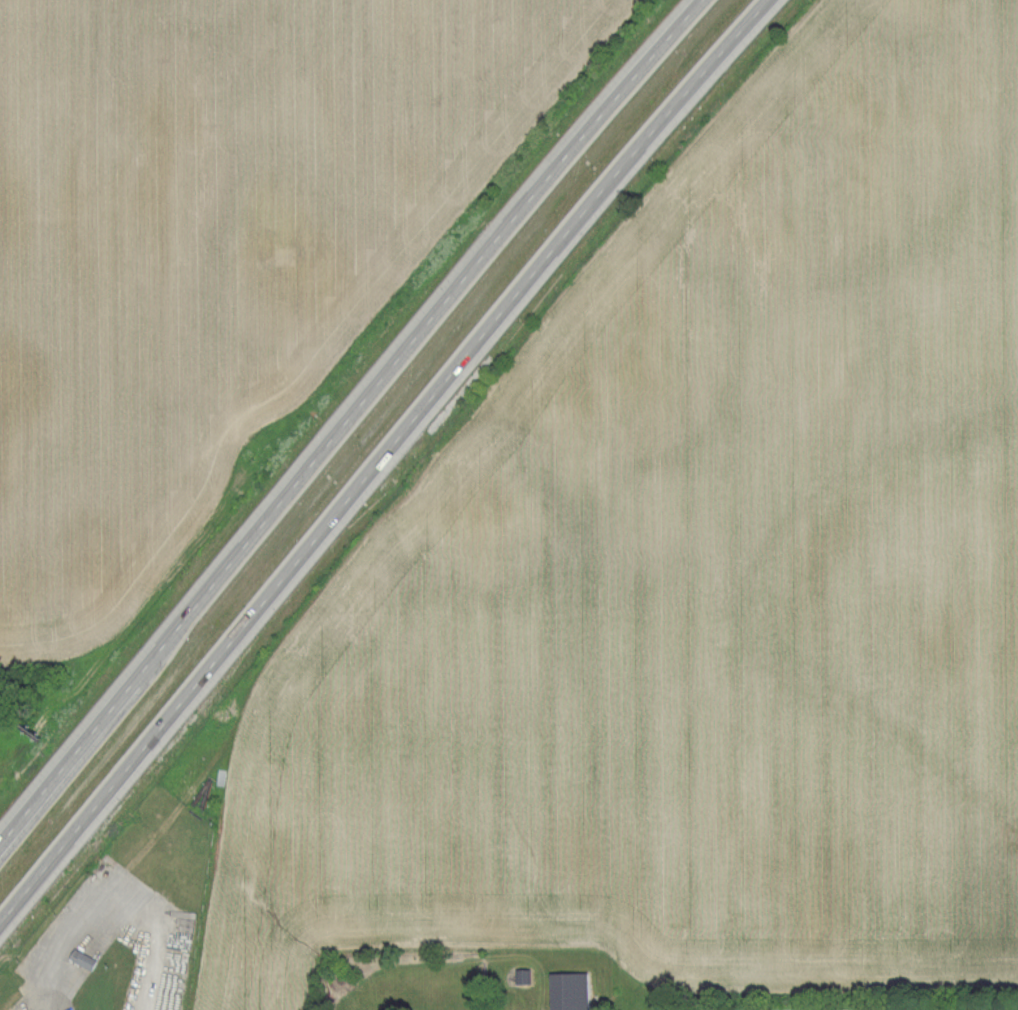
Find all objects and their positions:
road: (348, 419)
road: (381, 458)
road: (107, 893)
building: (83, 959)
building: (569, 991)

